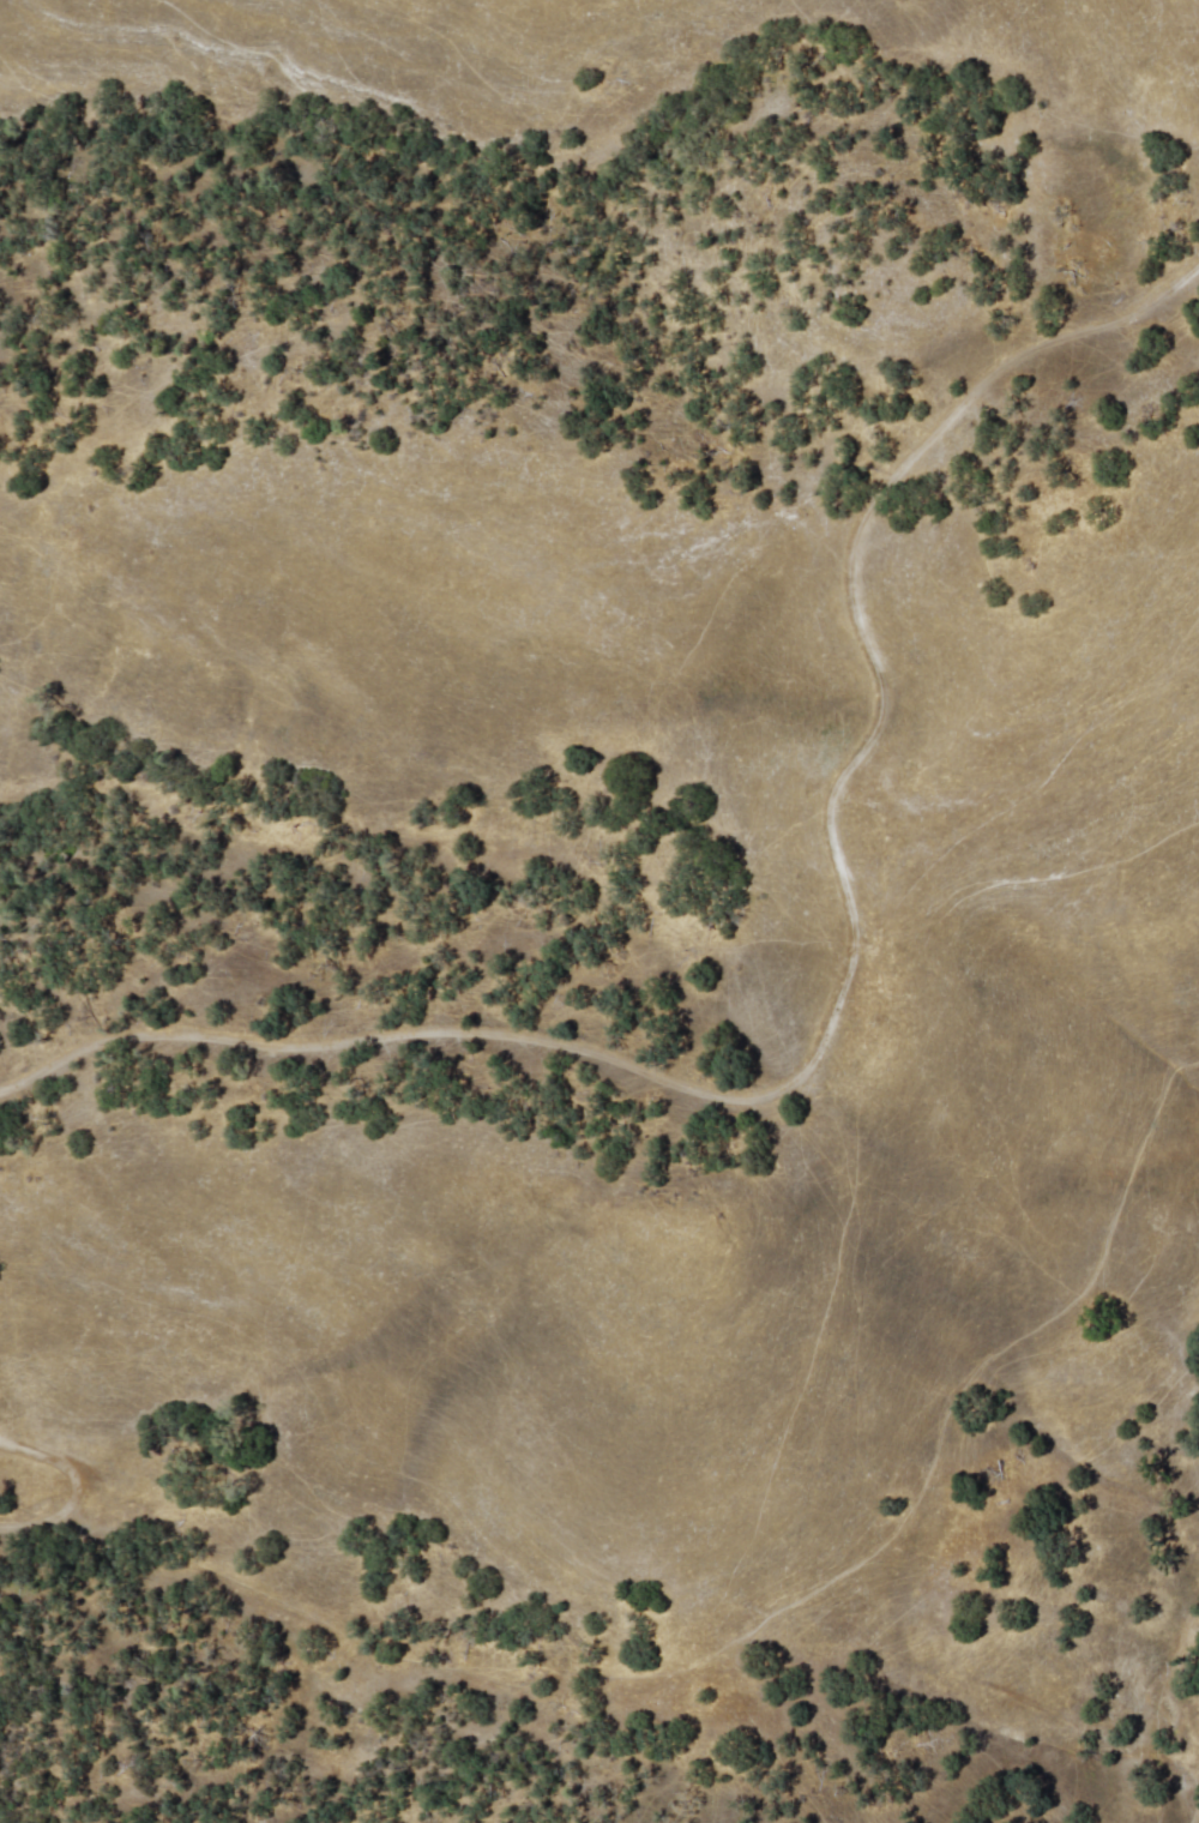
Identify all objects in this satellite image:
road: (887, 976)
road: (133, 1464)

